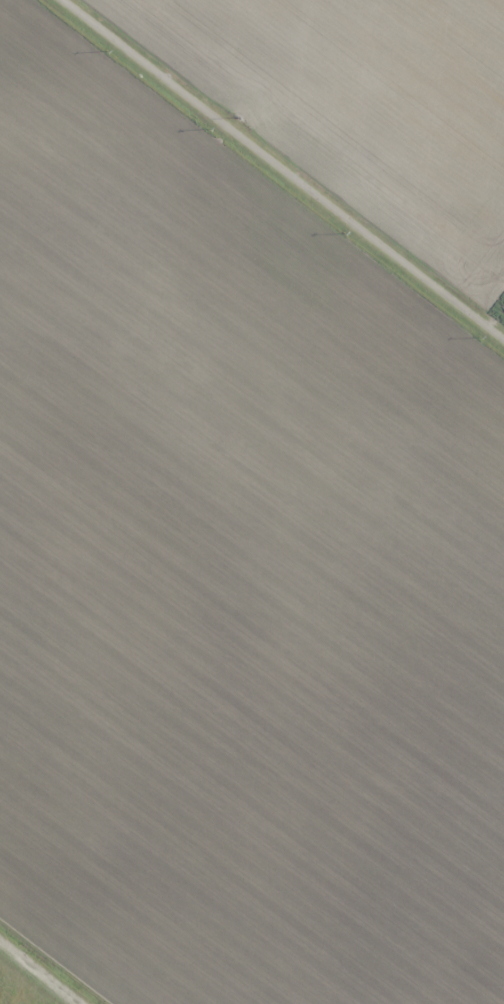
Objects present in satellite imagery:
road: (274, 174)

